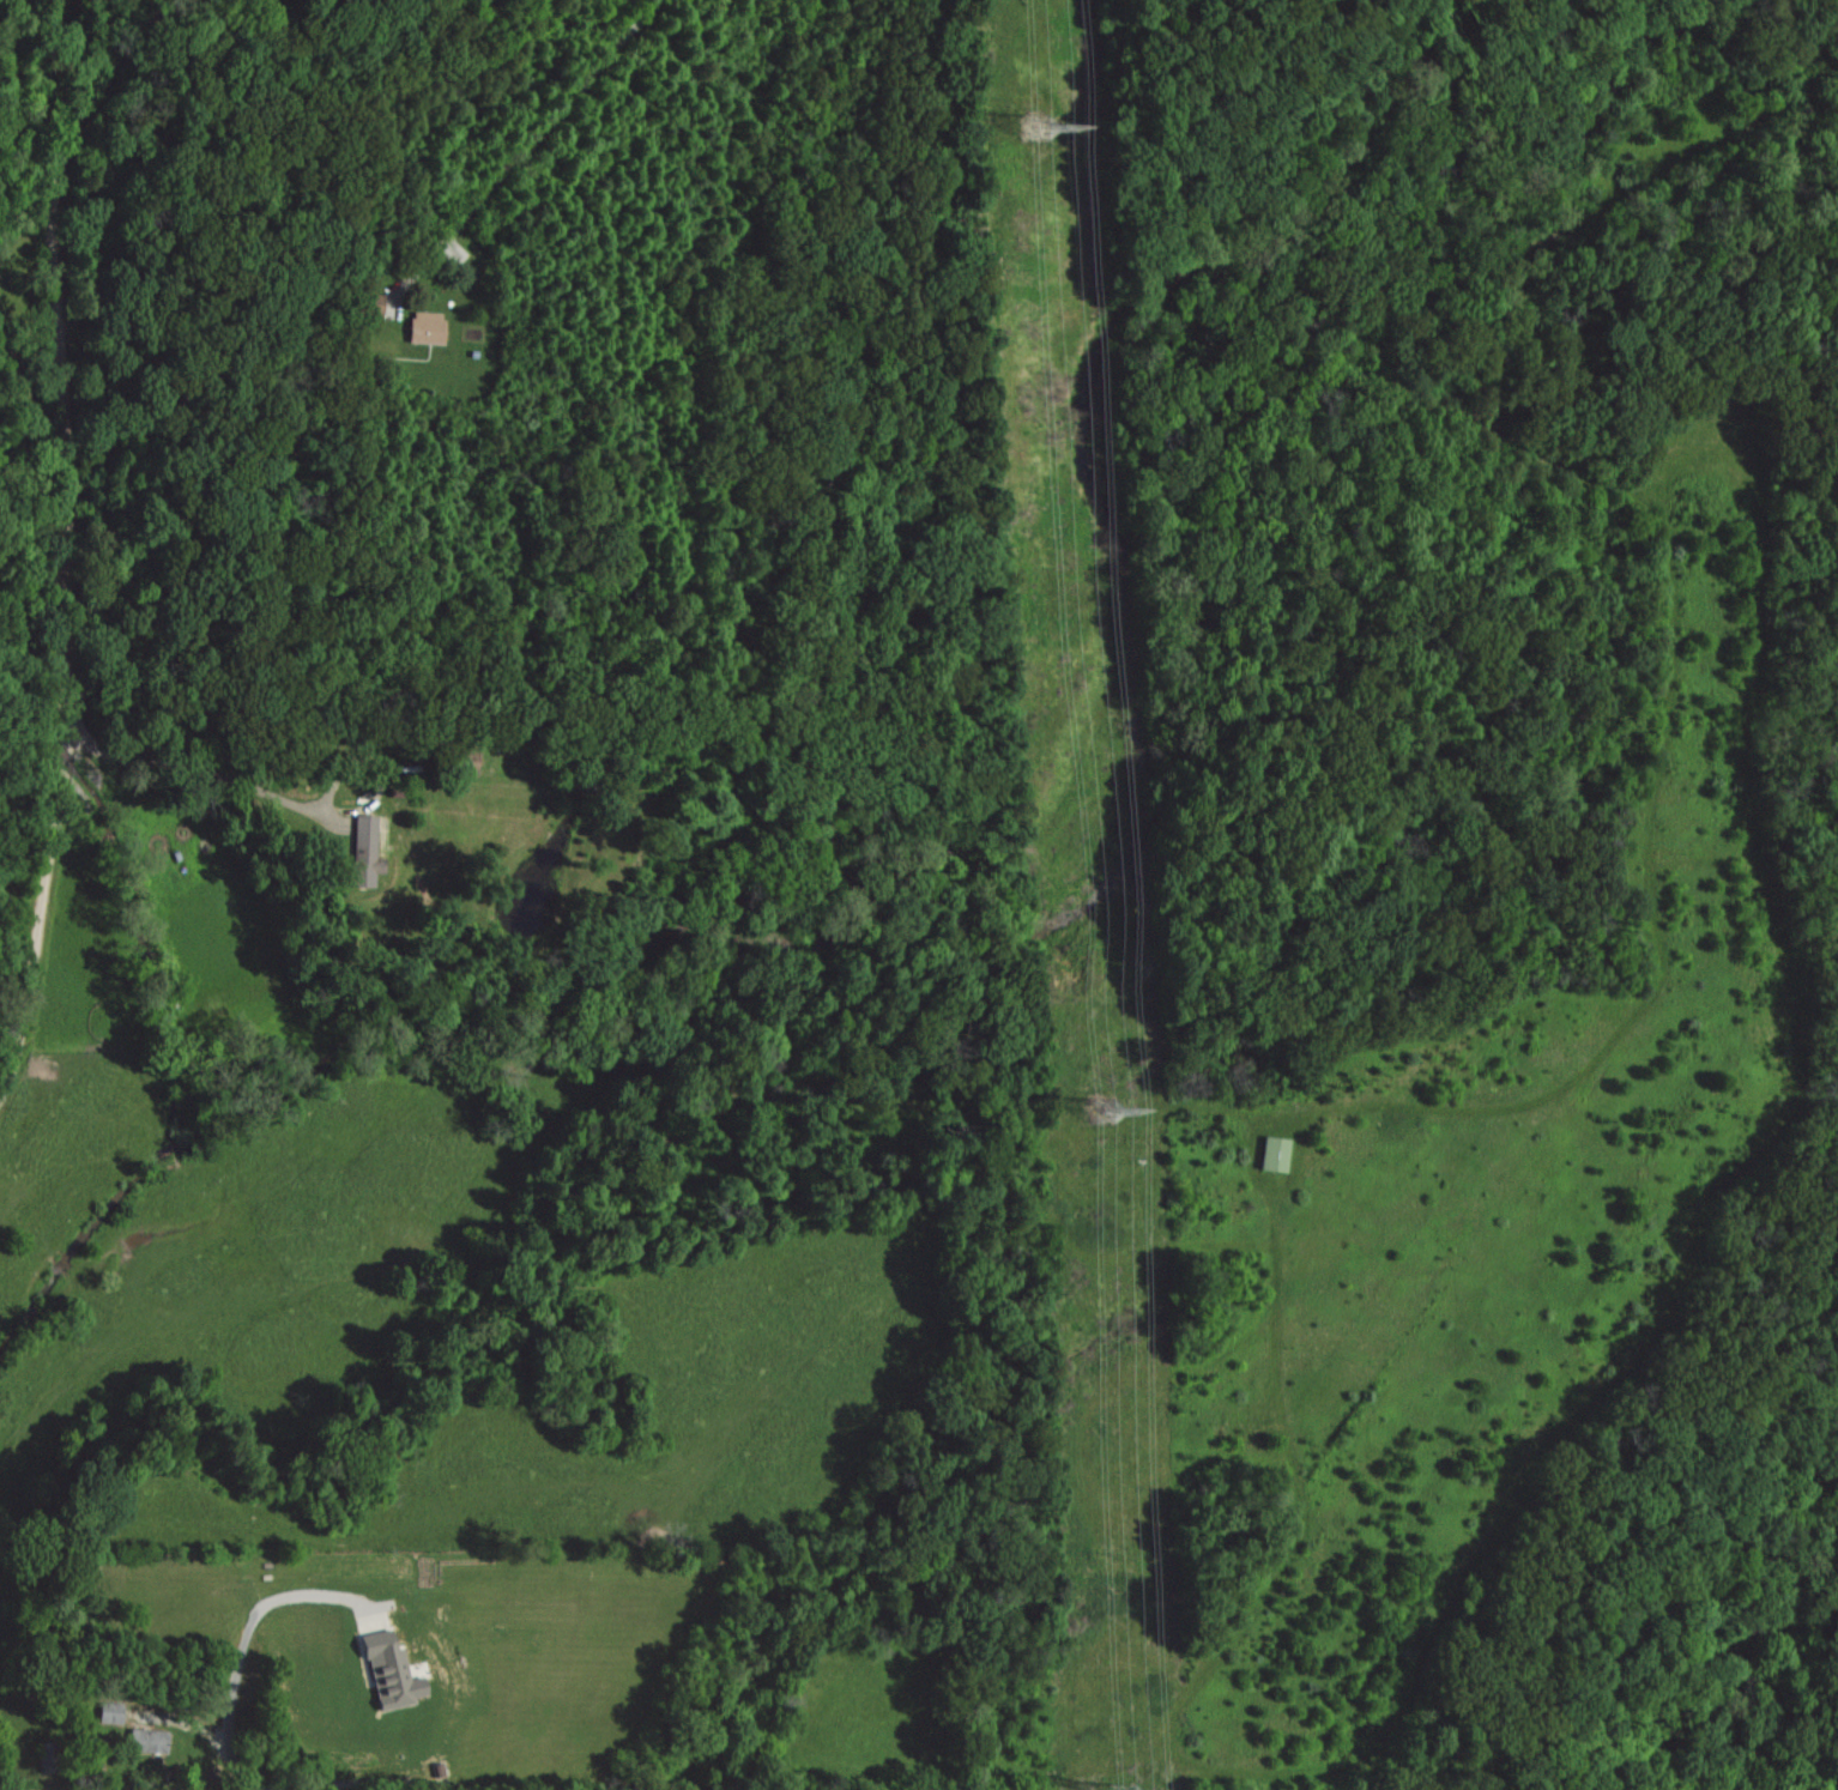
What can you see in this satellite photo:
power tower: (1033, 128)
road: (551, 152)
road: (67, 489)
road: (149, 791)
power tower: (1110, 1112)
road: (242, 1650)

